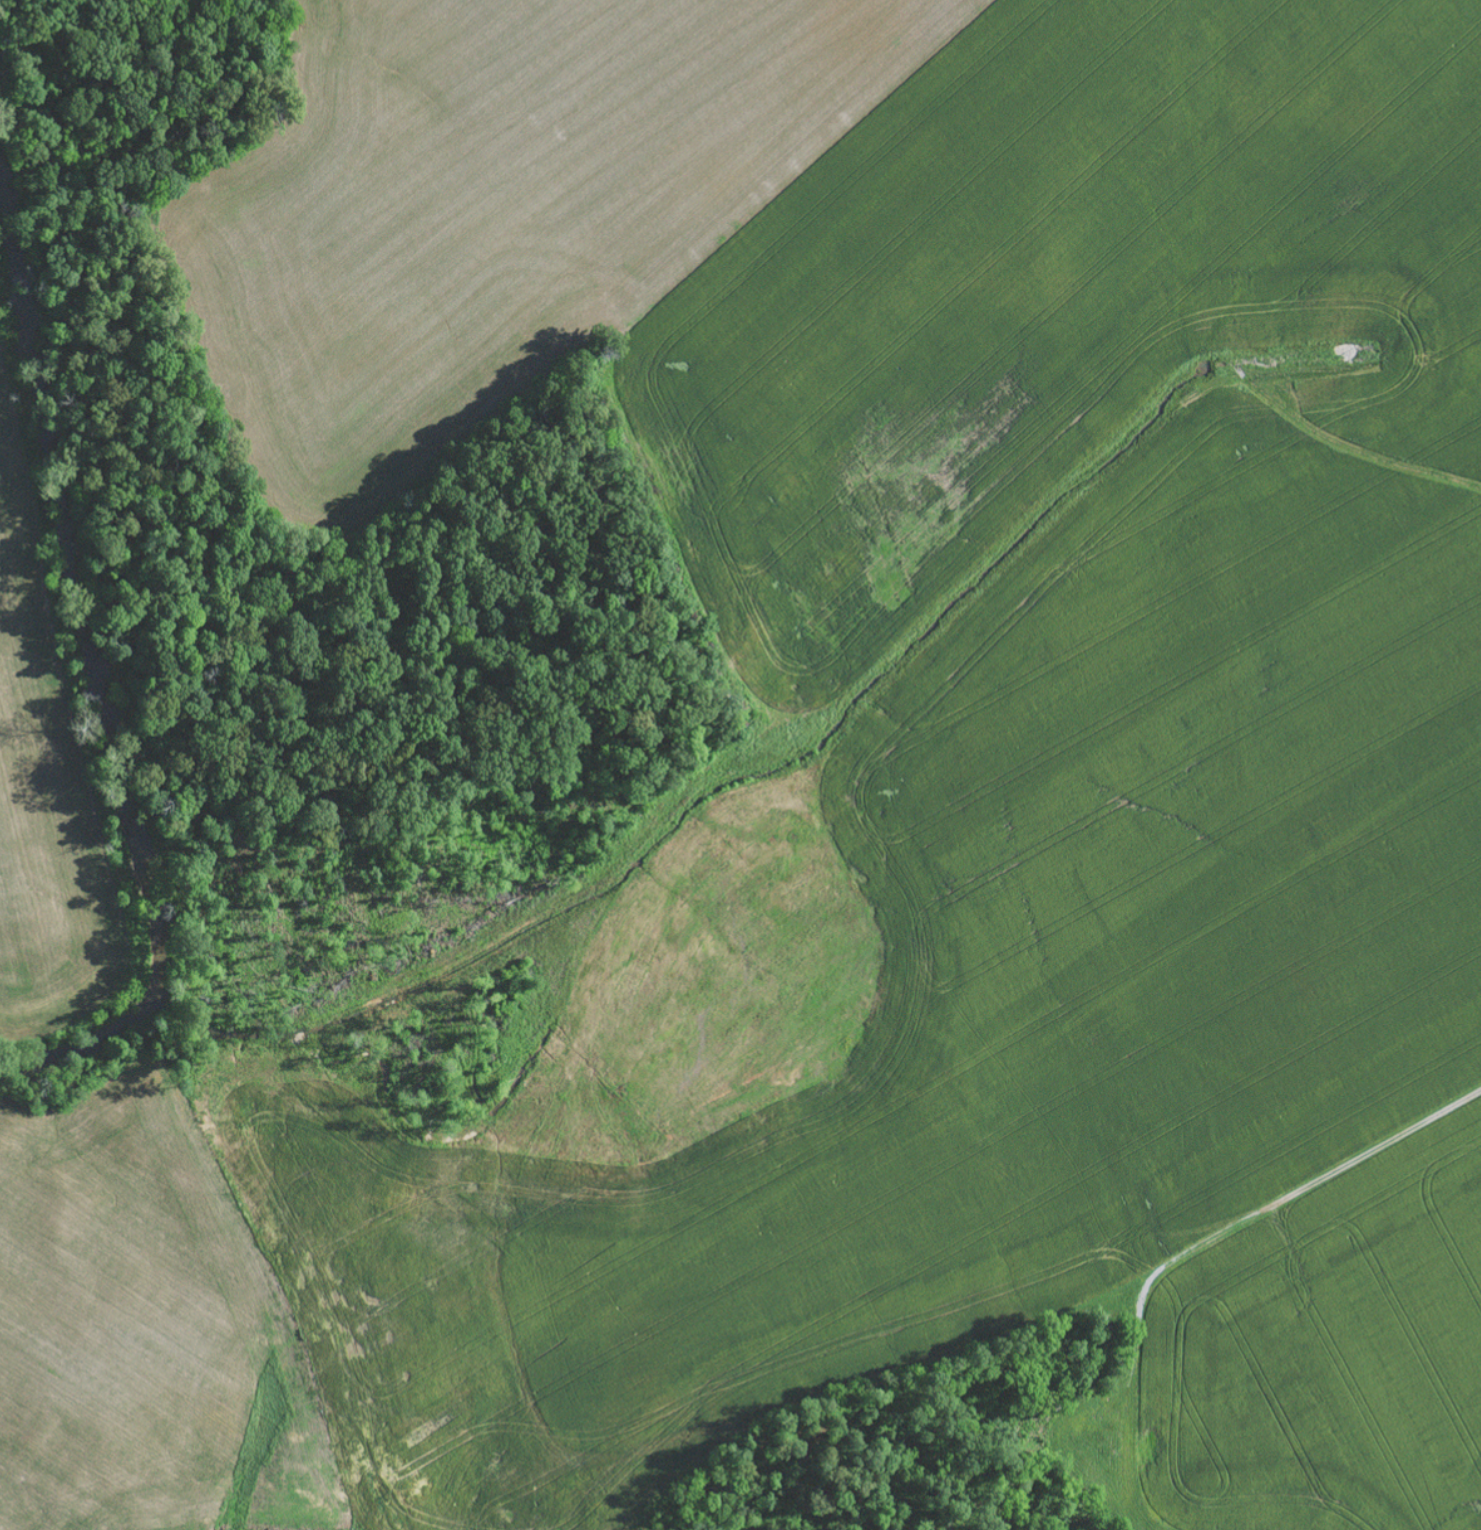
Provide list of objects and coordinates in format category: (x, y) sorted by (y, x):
road: (1266, 1169)

